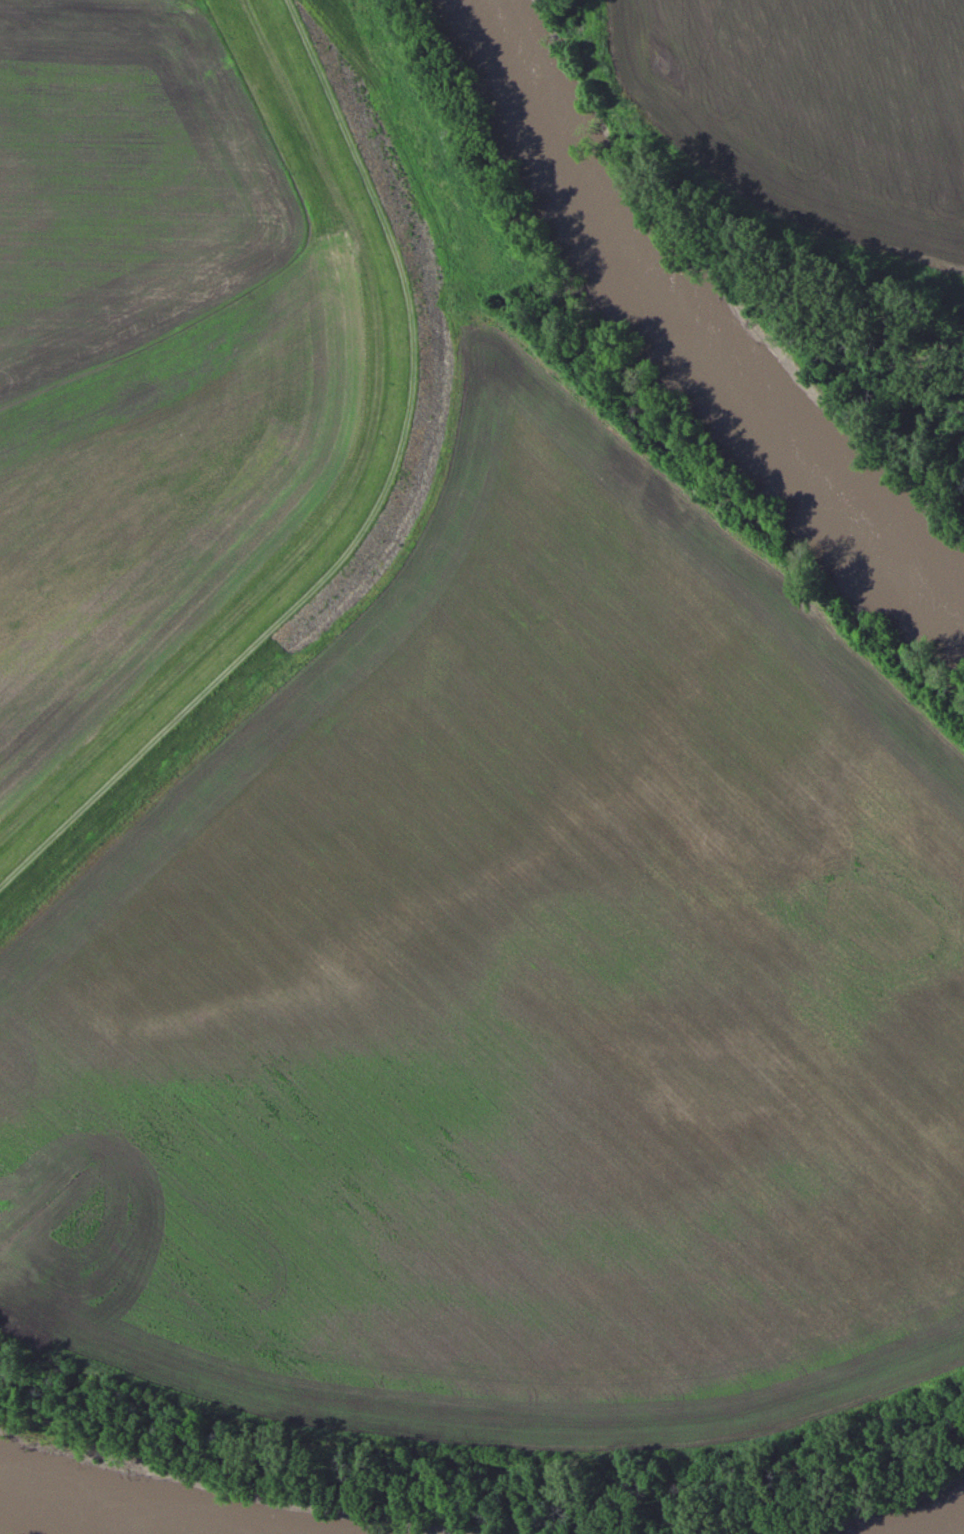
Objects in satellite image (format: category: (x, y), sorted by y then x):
river: (670, 337)
crop: (149, 348)
river: (103, 1507)
river: (961, 1532)

